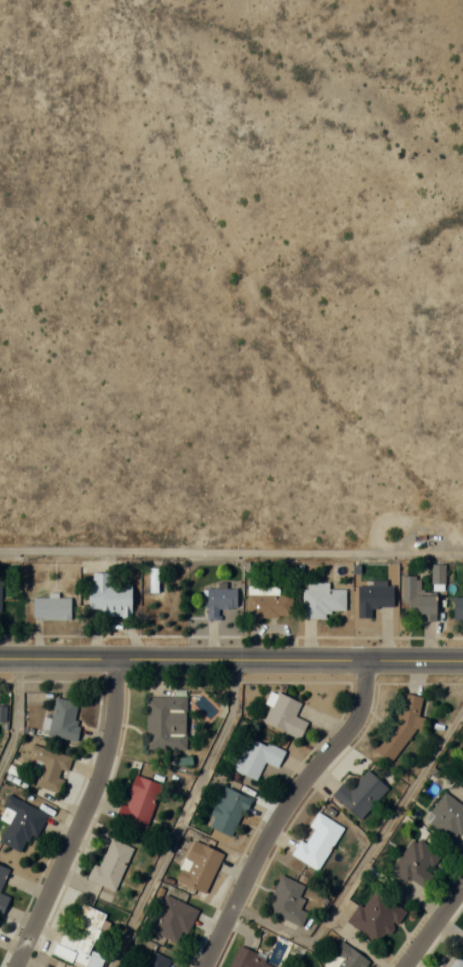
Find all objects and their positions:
road: (231, 554)
building: (109, 595)
building: (373, 596)
building: (0, 598)
building: (418, 599)
building: (220, 600)
building: (321, 600)
building: (269, 603)
building: (50, 608)
building: (458, 608)
road: (231, 659)
road: (14, 710)
building: (284, 715)
building: (63, 718)
building: (165, 722)
building: (399, 729)
building: (255, 757)
building: (50, 768)
building: (462, 780)
building: (360, 794)
building: (138, 804)
road: (286, 810)
building: (227, 811)
road: (181, 816)
building: (447, 816)
road: (84, 817)
building: (20, 822)
building: (317, 841)
road: (362, 859)
building: (416, 862)
building: (110, 863)
building: (199, 865)
building: (2, 874)
building: (3, 902)
building: (288, 903)
building: (375, 916)
building: (172, 919)
road: (435, 929)
building: (84, 936)
building: (345, 957)
building: (250, 960)
building: (156, 961)
building: (456, 962)
building: (44, 966)

